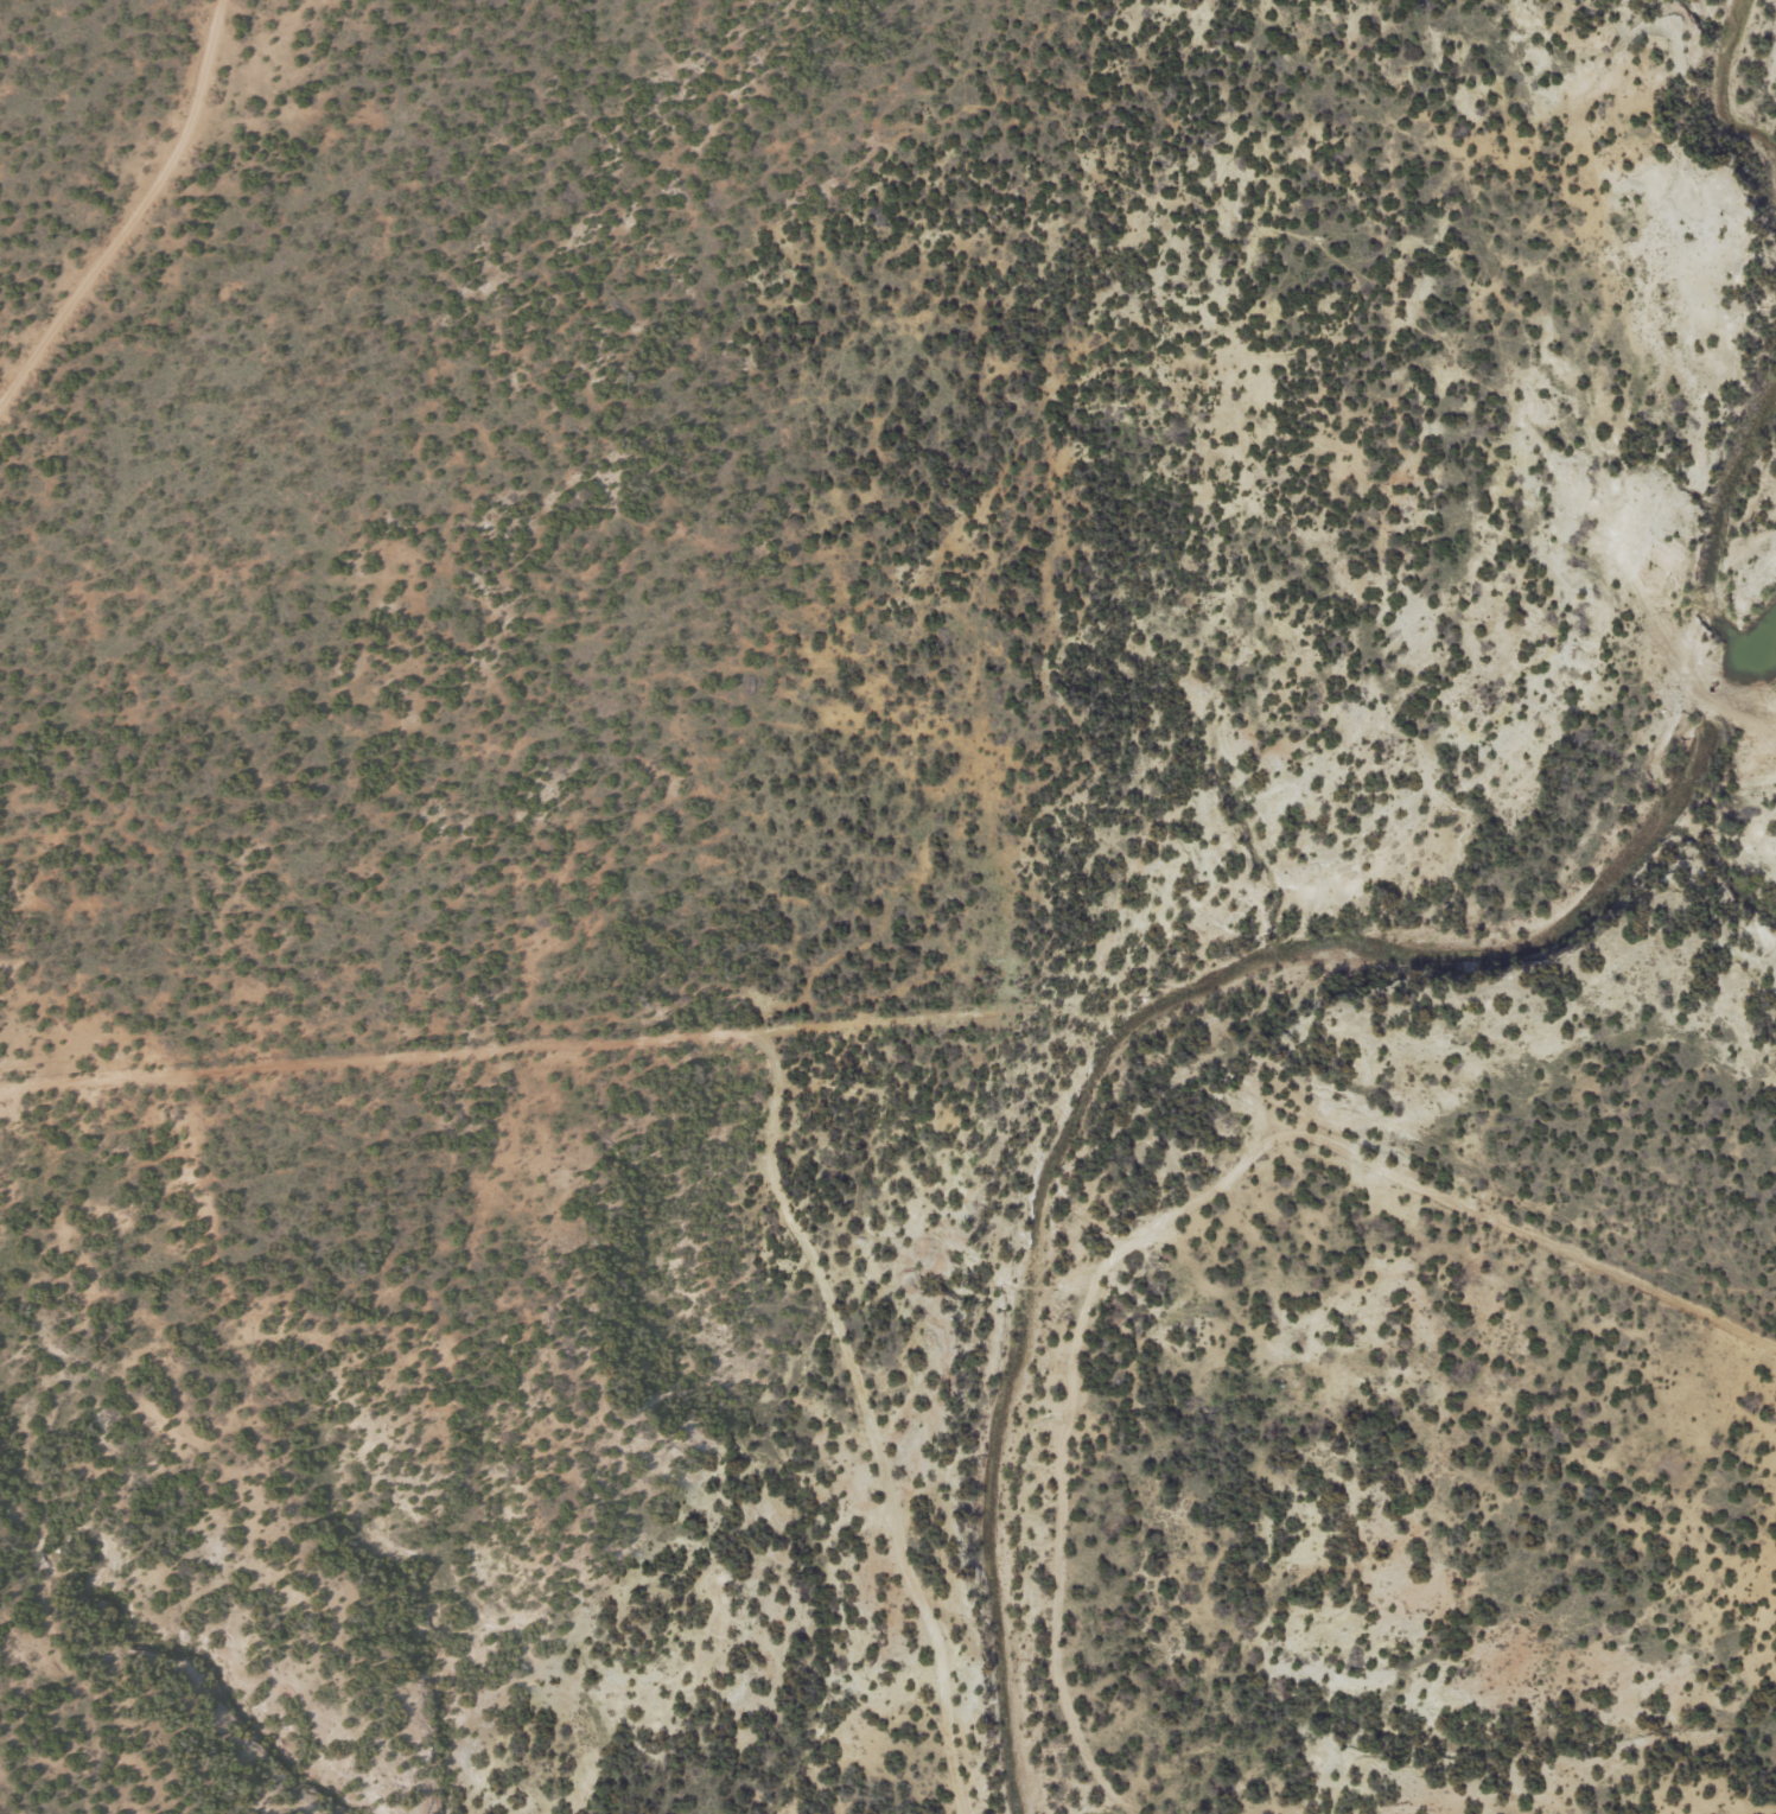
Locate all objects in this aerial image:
road: (110, 183)

